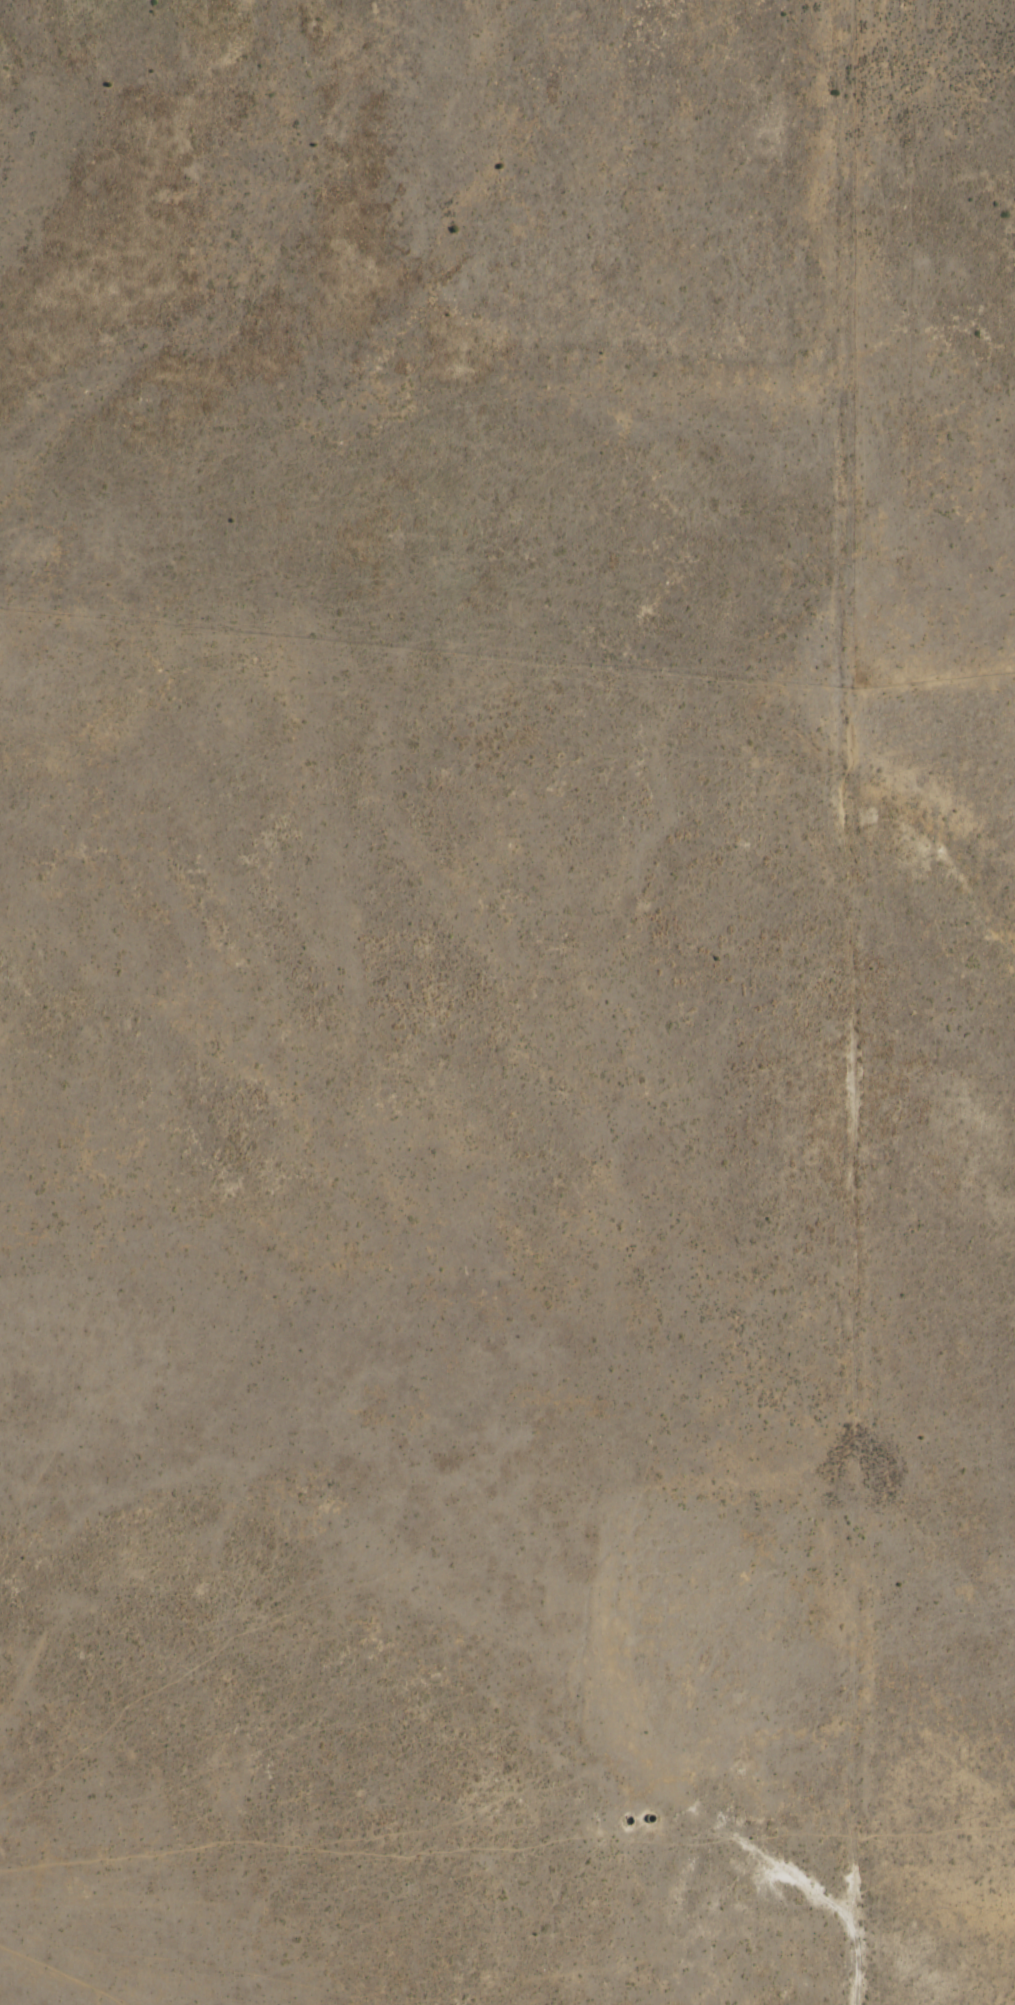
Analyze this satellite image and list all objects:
road: (474, 1881)

